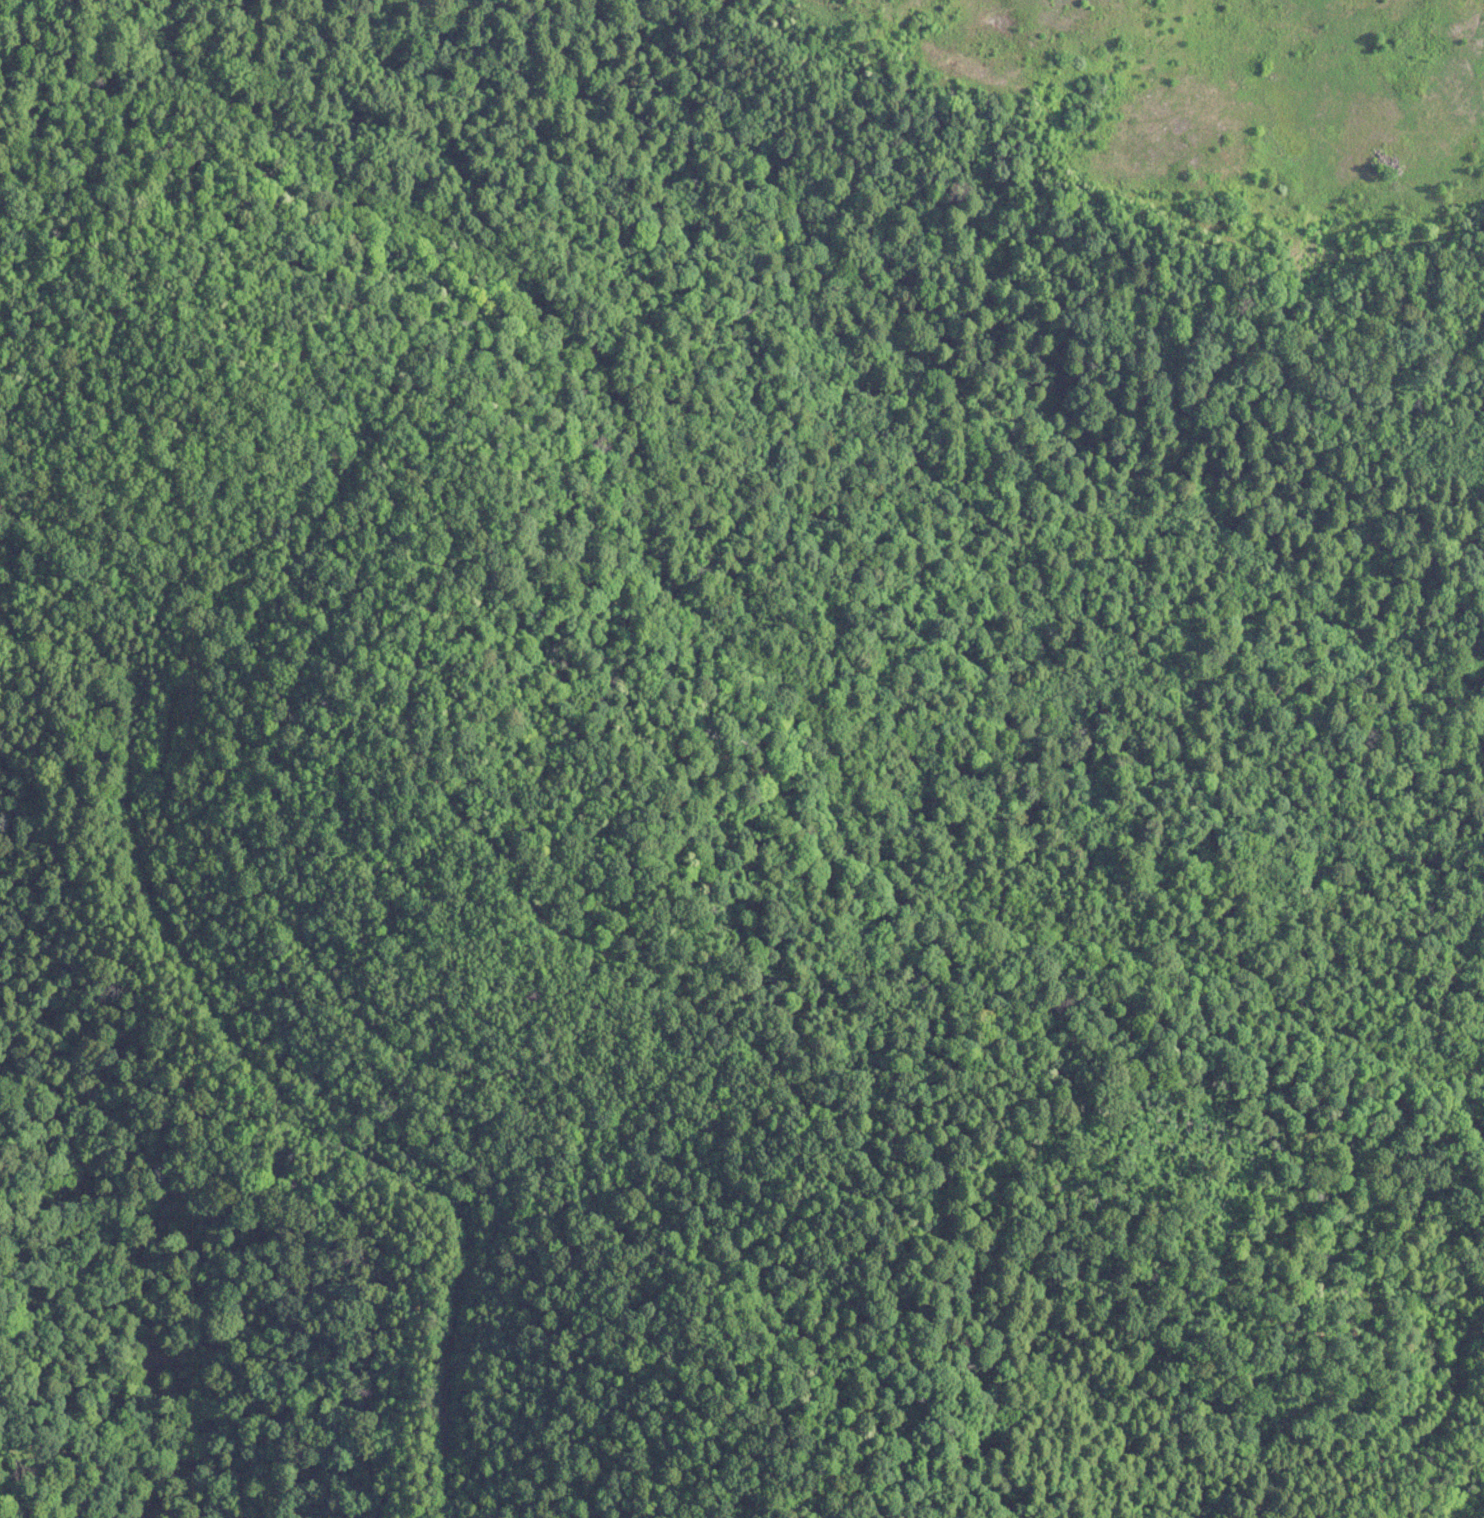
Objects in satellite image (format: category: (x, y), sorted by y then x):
quarry: (1212, 99)

